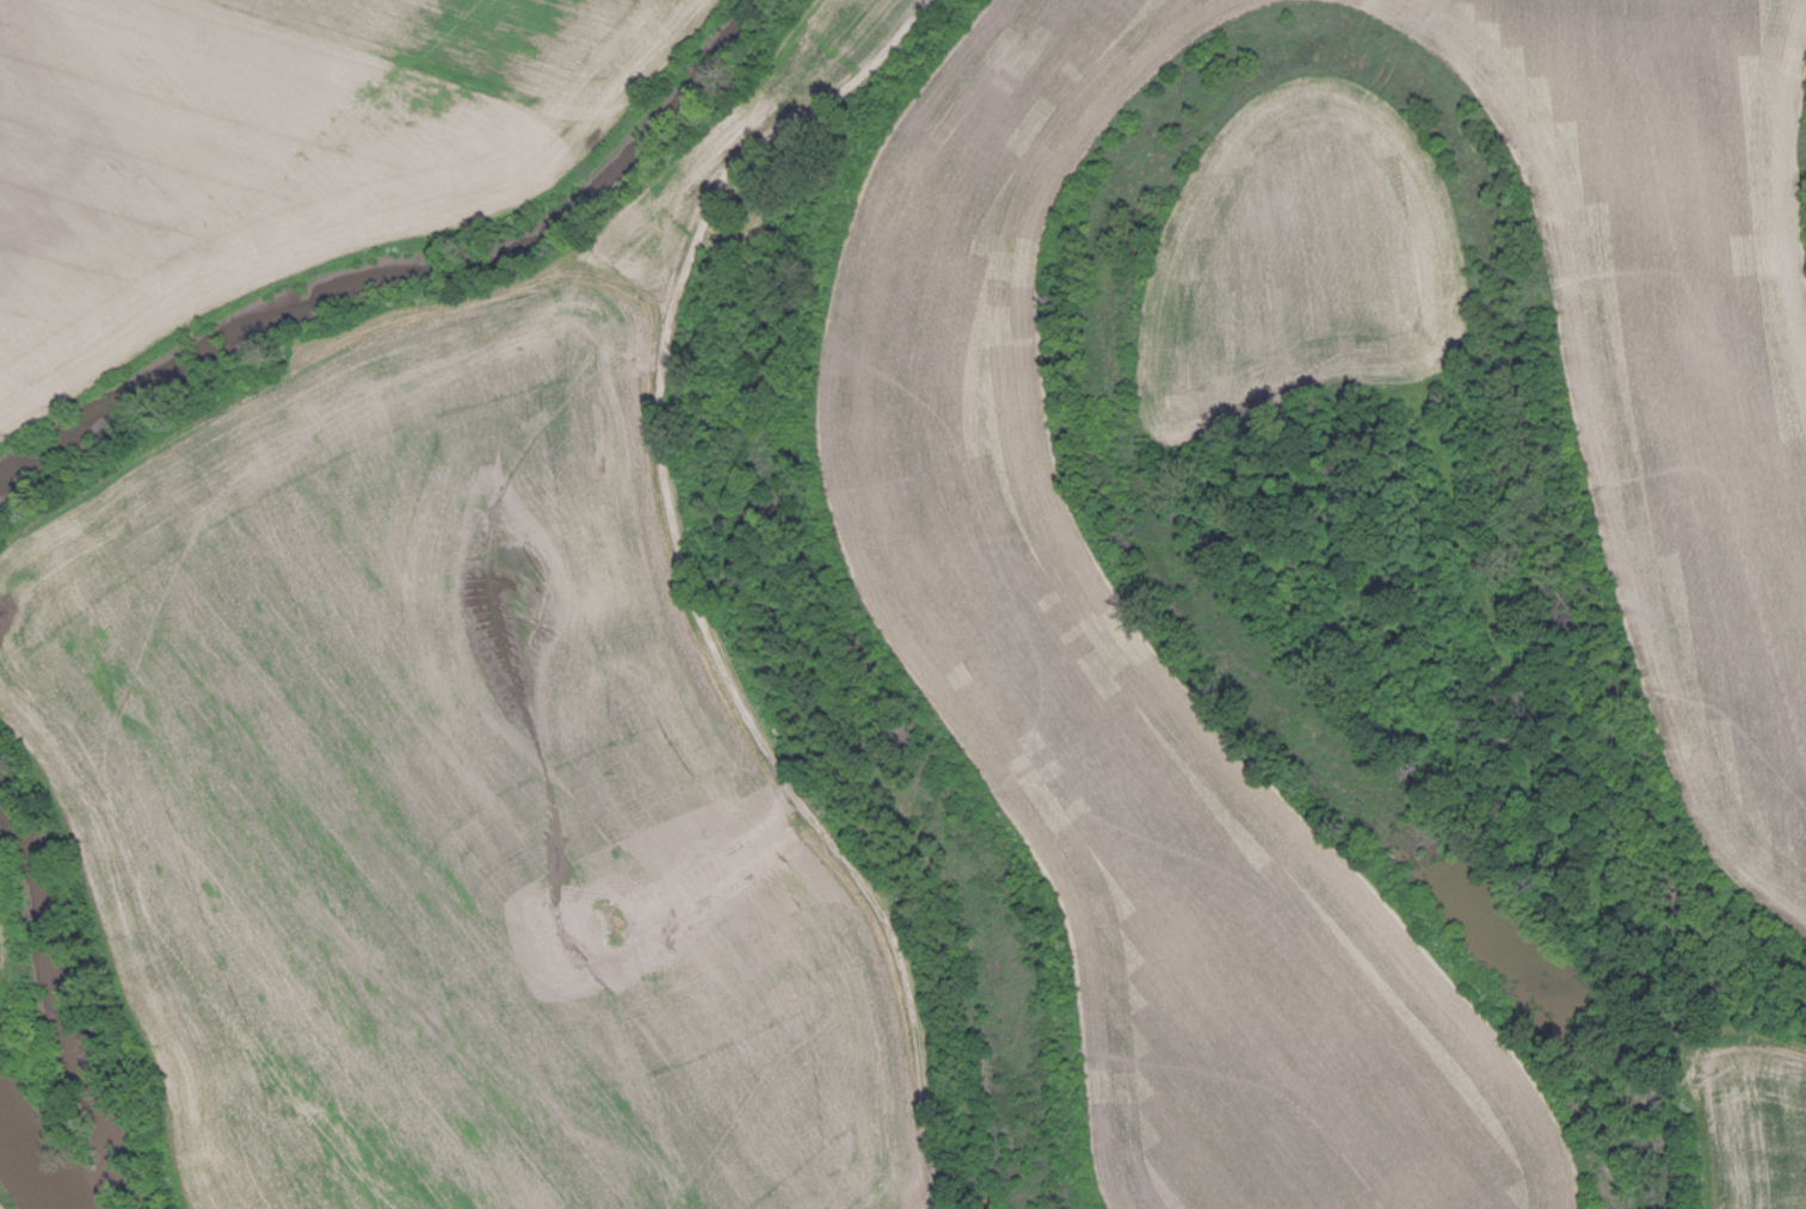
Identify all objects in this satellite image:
road: (636, 596)
road: (1677, 1080)

